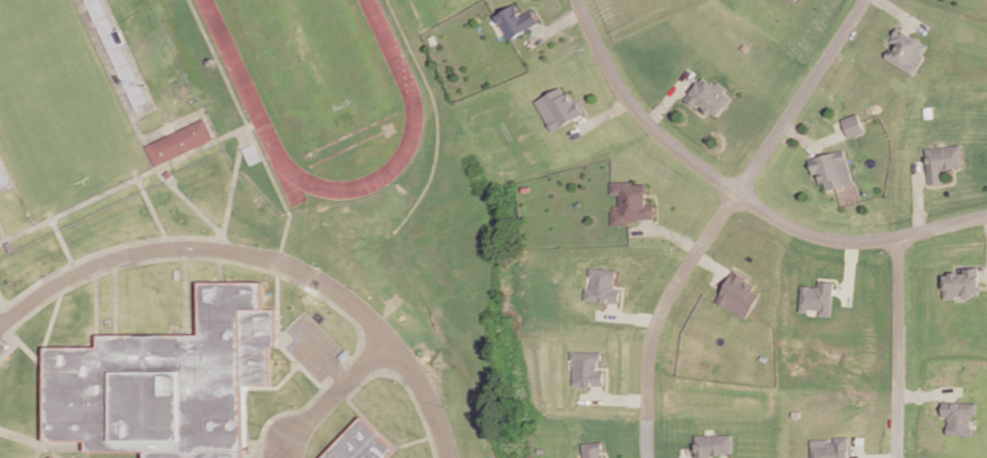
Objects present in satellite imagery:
building: (796, 0)
road: (537, 9)
road: (904, 14)
building: (516, 19)
road: (909, 24)
road: (554, 26)
road: (892, 32)
building: (745, 46)
building: (907, 50)
park: (324, 91)
building: (709, 95)
road: (799, 95)
road: (670, 96)
road: (690, 103)
building: (559, 106)
building: (929, 110)
road: (599, 115)
building: (854, 122)
road: (135, 129)
road: (250, 129)
road: (801, 135)
road: (827, 137)
building: (183, 141)
building: (942, 159)
building: (832, 167)
road: (233, 182)
building: (0, 183)
road: (944, 183)
road: (124, 185)
building: (526, 187)
road: (741, 193)
road: (918, 196)
building: (631, 202)
road: (149, 210)
road: (666, 230)
road: (58, 242)
road: (103, 251)
road: (188, 258)
road: (264, 258)
road: (712, 262)
road: (218, 272)
road: (717, 274)
building: (964, 281)
building: (603, 286)
road: (277, 291)
building: (737, 292)
road: (182, 297)
building: (816, 298)
road: (110, 303)
road: (91, 312)
road: (658, 313)
parking lot: (2, 345)
road: (899, 346)
parking lot: (313, 348)
building: (763, 356)
road: (322, 359)
building: (588, 369)
building: (165, 382)
road: (407, 387)
road: (39, 388)
road: (275, 390)
road: (337, 391)
road: (930, 392)
street lamp: (446, 403)
road: (942, 408)
building: (795, 412)
building: (962, 415)
road: (383, 436)
building: (359, 444)
building: (713, 444)
road: (40, 445)
building: (593, 448)
building: (829, 448)
road: (34, 451)
road: (607, 451)
road: (723, 455)
building: (51, 457)
road: (875, 457)

